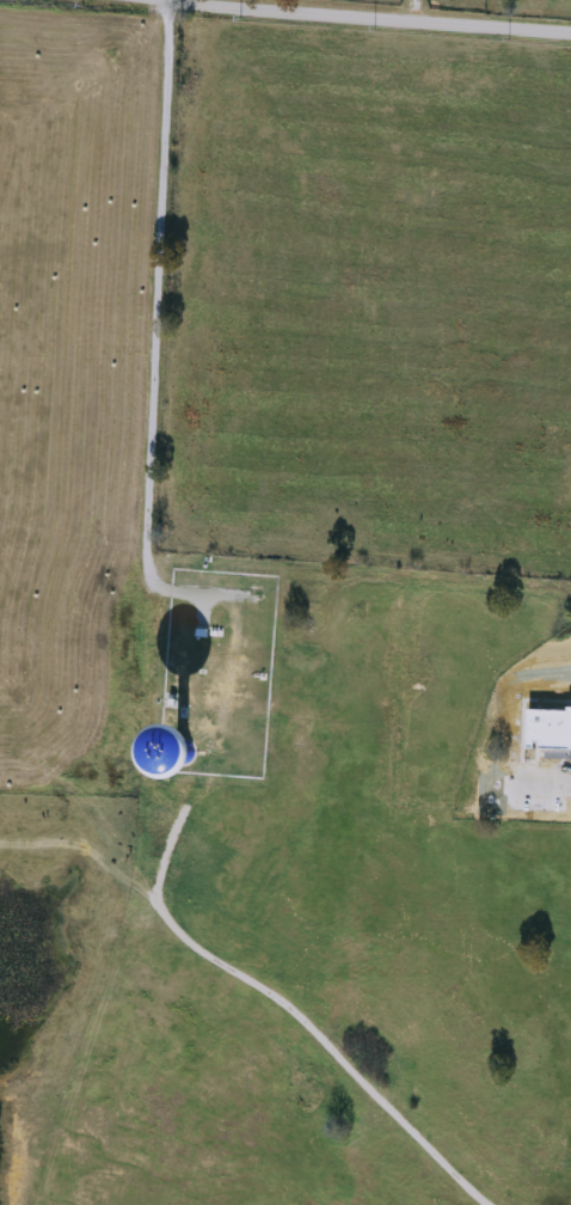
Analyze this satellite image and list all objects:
road: (409, 6)
road: (407, 11)
road: (151, 347)
road: (276, 1001)

